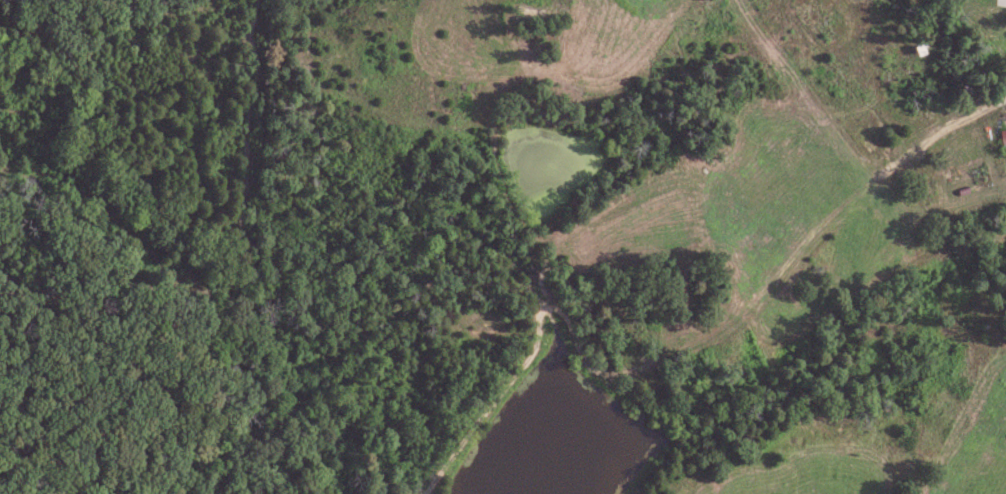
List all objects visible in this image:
building: (992, 43)
building: (958, 168)

